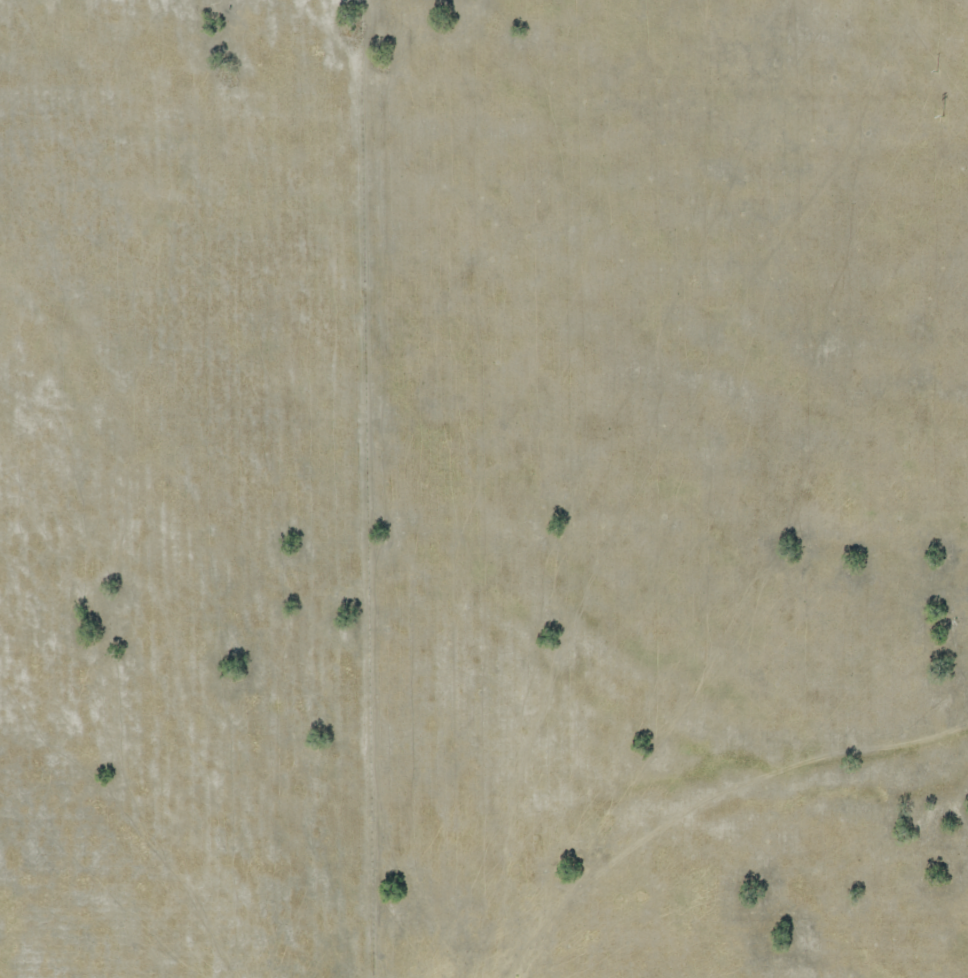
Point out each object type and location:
power tower: (942, 116)

